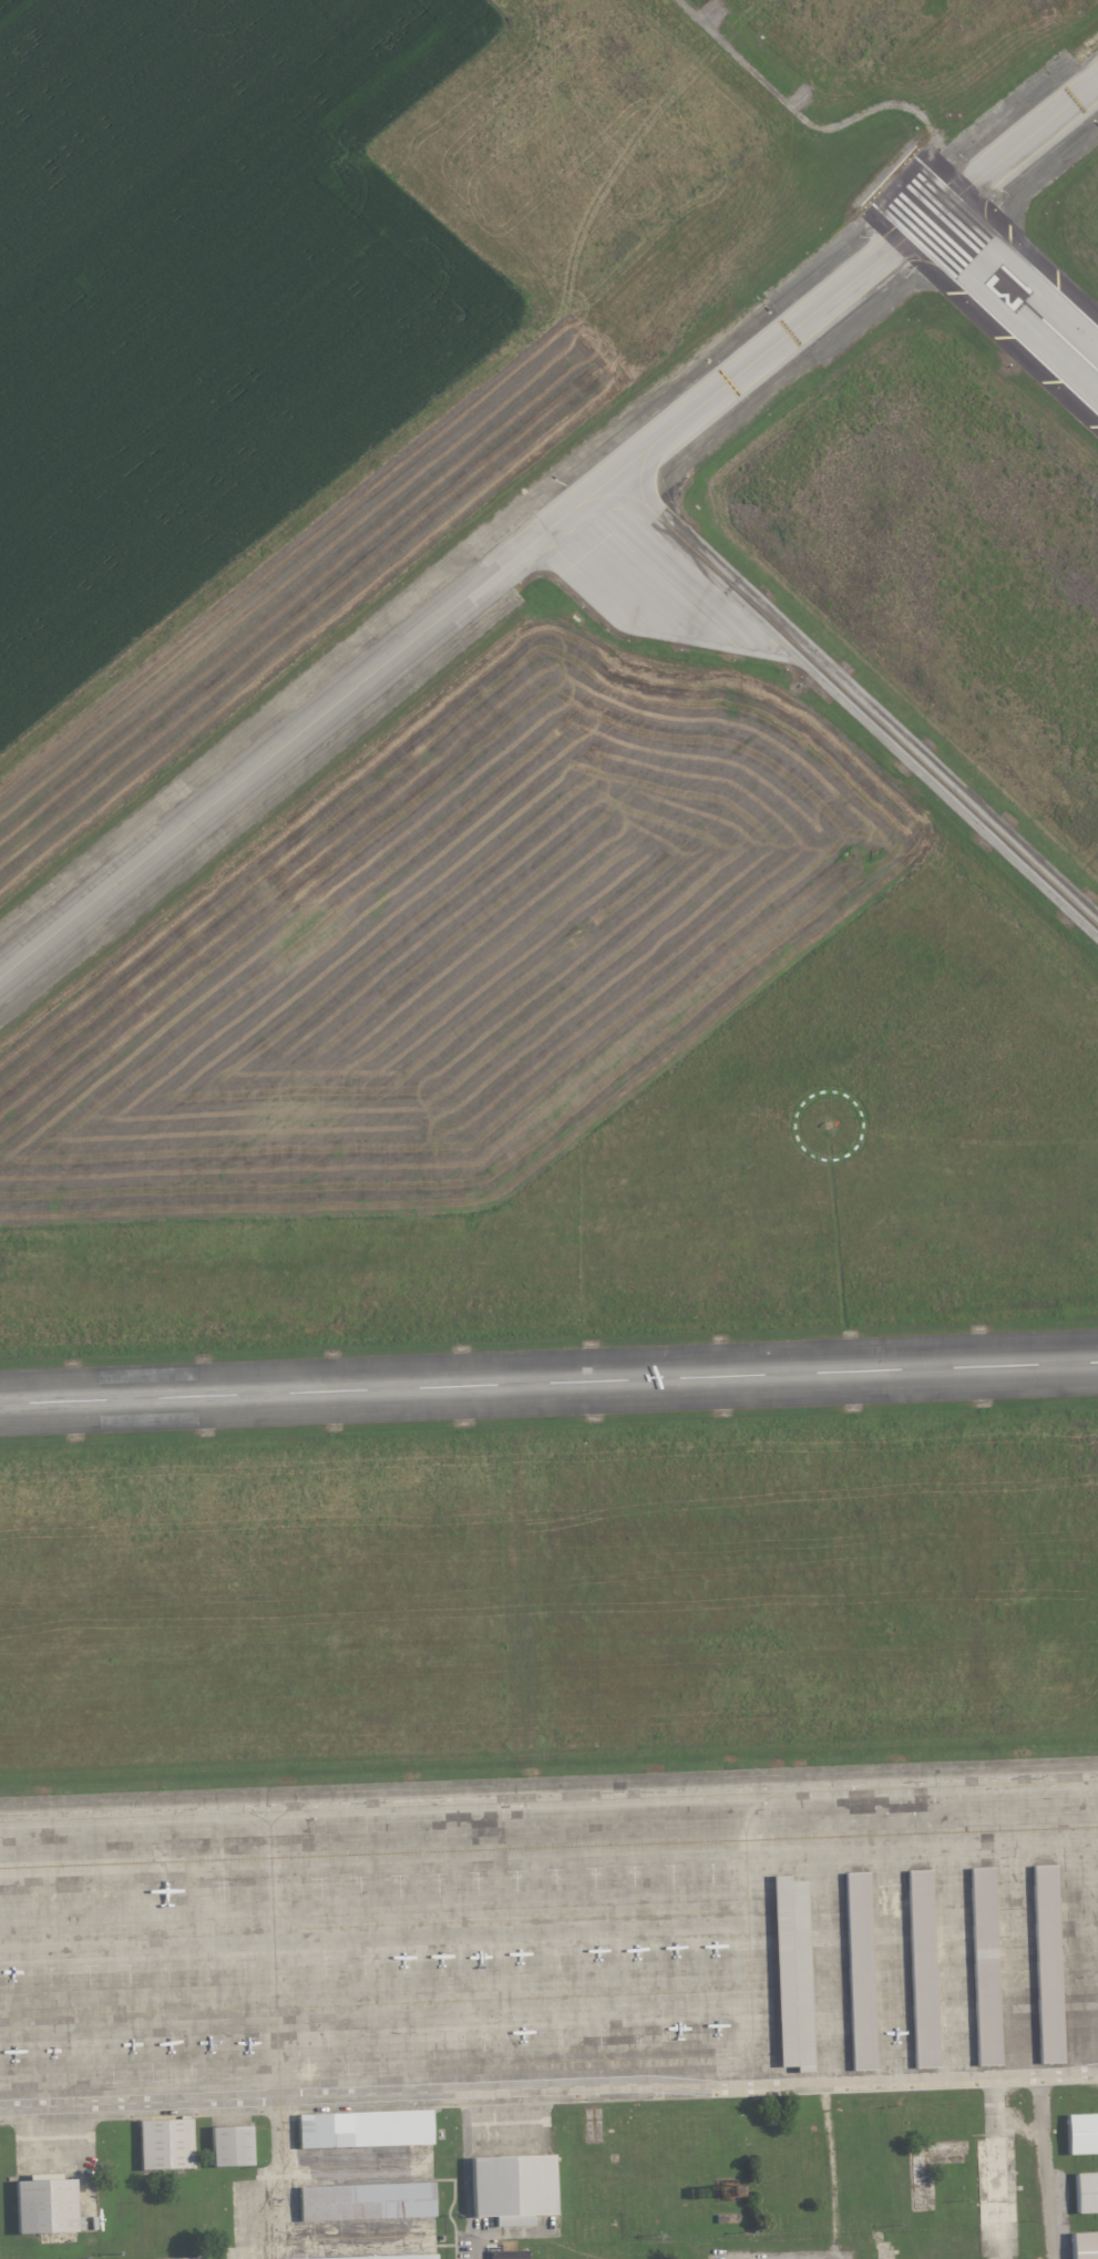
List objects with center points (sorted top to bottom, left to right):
airport taxiway: (926, 219)
airport taxiway: (927, 245)
airport runway: (998, 281)
airport taxiway: (592, 494)
airport taxiway: (845, 694)
airport taxiway: (291, 738)
airport: (589, 1228)
airport runway: (548, 1383)
airport taxiway: (548, 1800)
airport taxiway: (259, 1817)
airport apron: (548, 1939)
airport hangar: (1048, 1964)
building: (1048, 1964)
airport hangar: (985, 1965)
building: (985, 1965)
airport hangar: (861, 1969)
building: (861, 1969)
airport hangar: (923, 1970)
building: (923, 1970)
airport hangar: (792, 1973)
building: (792, 1973)
airport taxiway: (276, 2033)
airport hangar: (362, 2129)
building: (362, 2129)
airport hangar: (1080, 2134)
building: (1080, 2134)
airport hangar: (164, 2145)
building: (164, 2145)
airport hangar: (228, 2145)
building: (228, 2145)
road: (1048, 2171)
airport hangar: (509, 2188)
building: (509, 2188)
airport hangar: (1085, 2193)
building: (1085, 2193)
airport hangar: (363, 2201)
building: (363, 2201)
airport hangar: (41, 2207)
building: (41, 2207)
airport hangar: (1082, 2245)
building: (1082, 2245)
road: (479, 2252)
building: (509, 2255)
airport hangar: (381, 2257)
building: (381, 2257)
airport hangar: (194, 2258)
building: (194, 2258)

